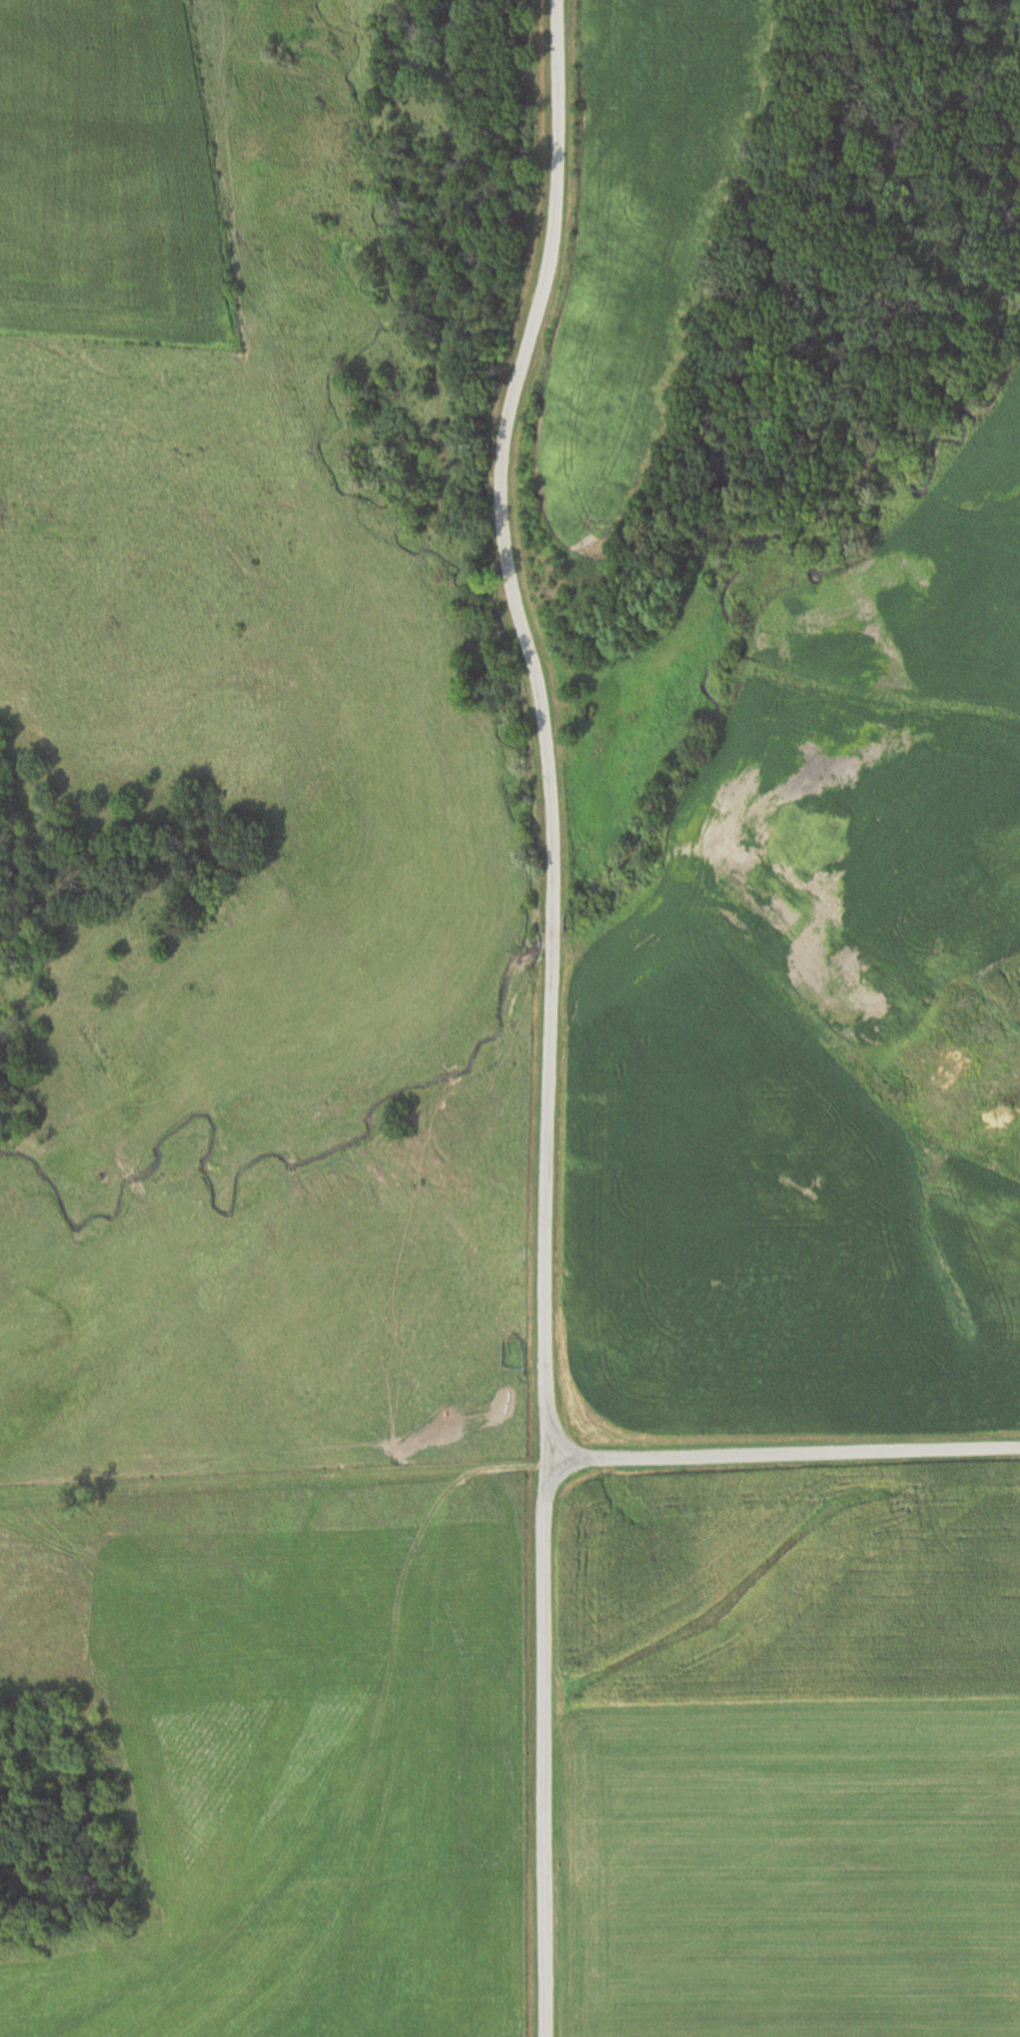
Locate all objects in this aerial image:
road: (547, 724)
road: (783, 1454)
road: (273, 1483)
road: (548, 1748)

